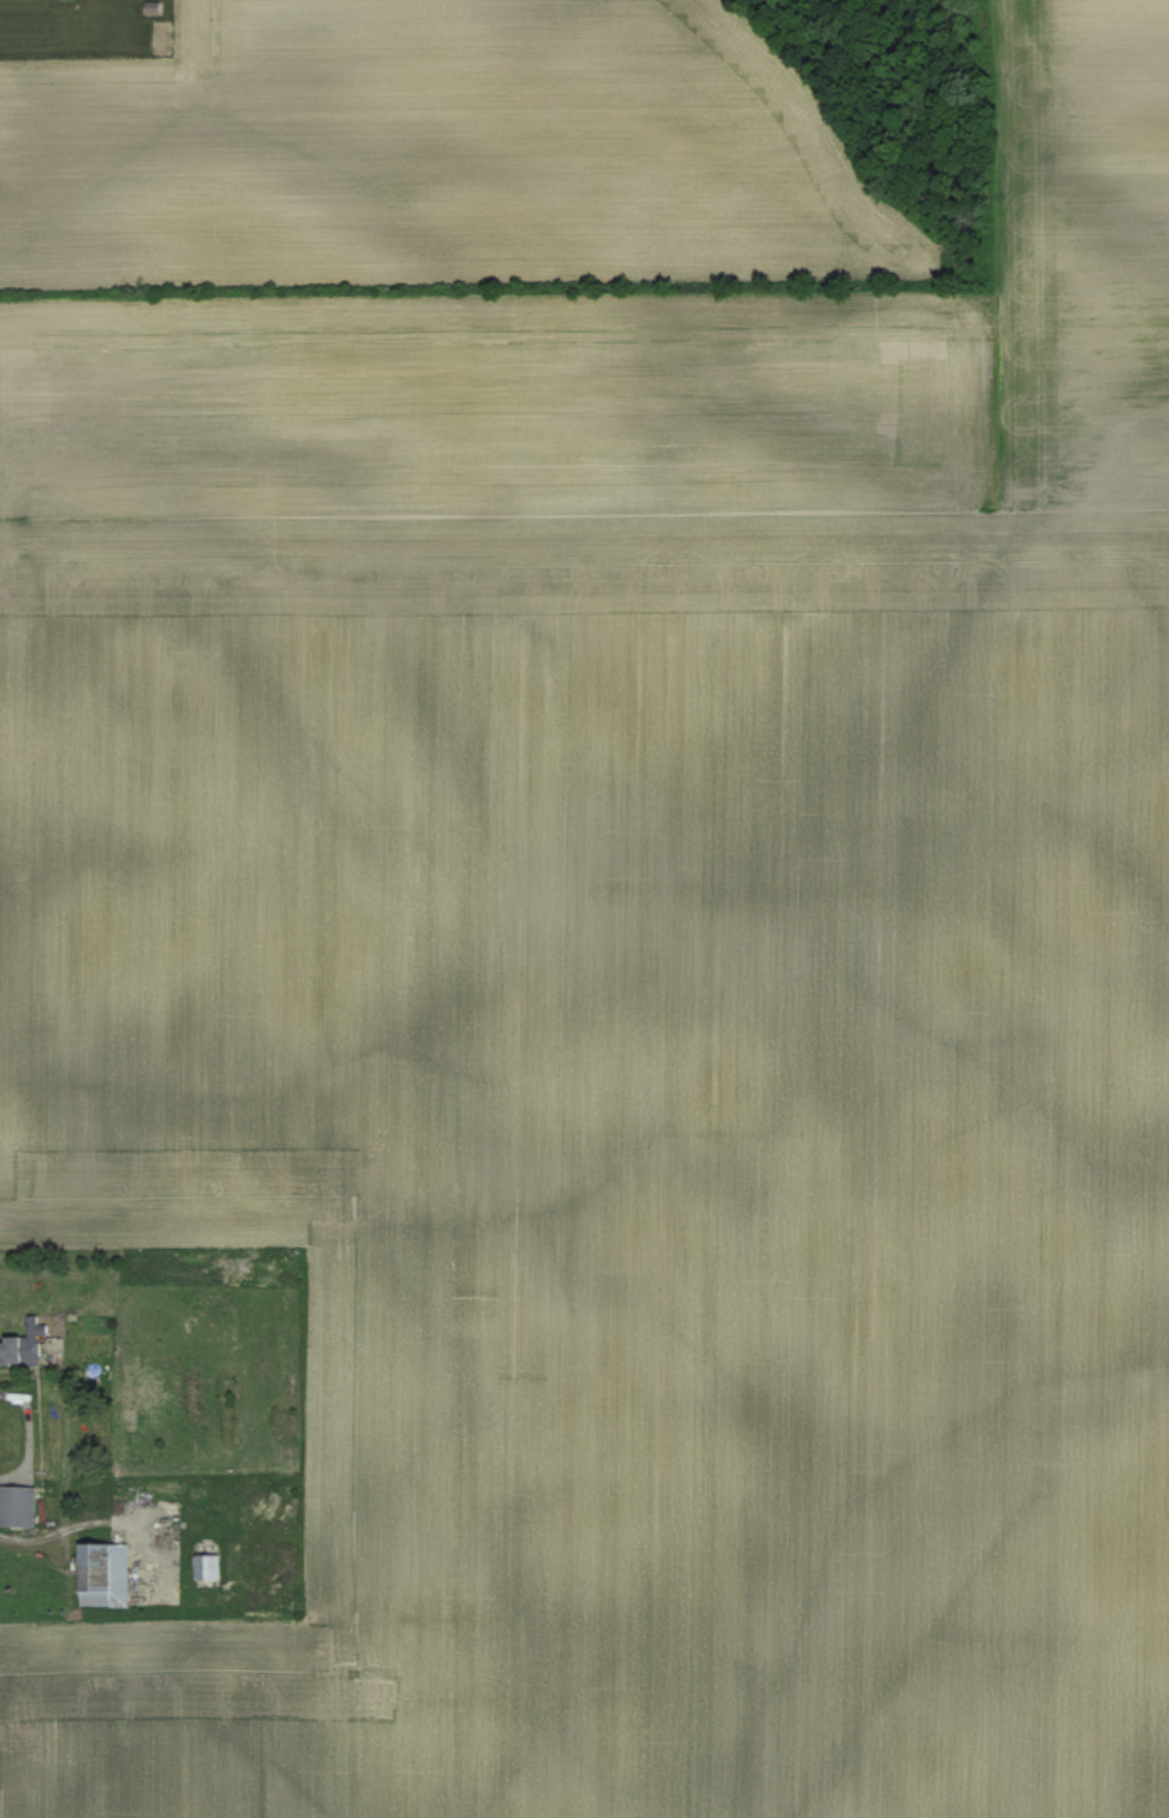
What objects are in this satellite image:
building: (24, 1348)
building: (17, 1506)
building: (206, 1567)
building: (103, 1574)

